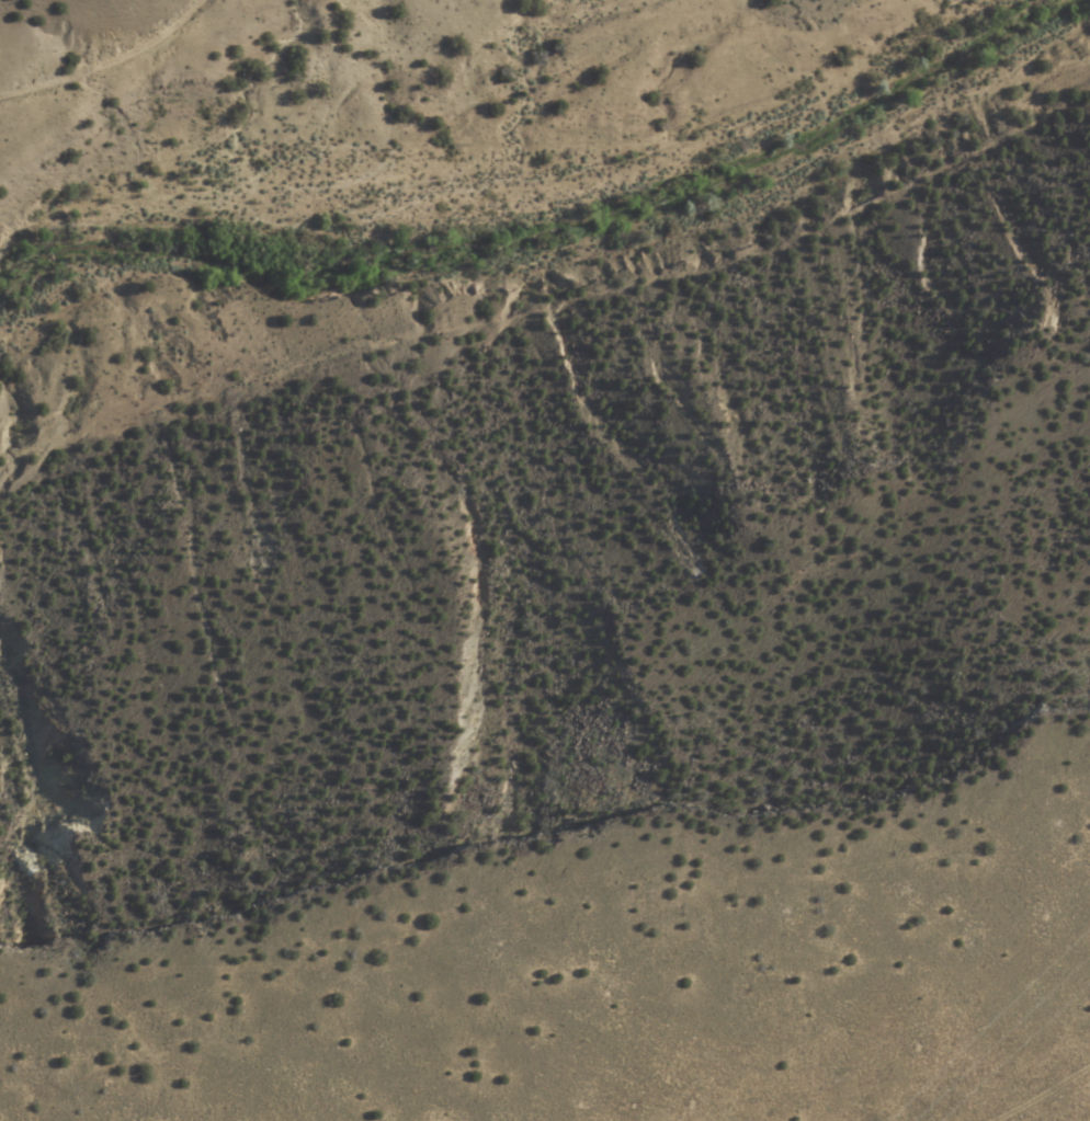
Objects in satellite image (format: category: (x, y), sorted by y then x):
road: (104, 57)
river: (508, 170)
road: (554, 306)

